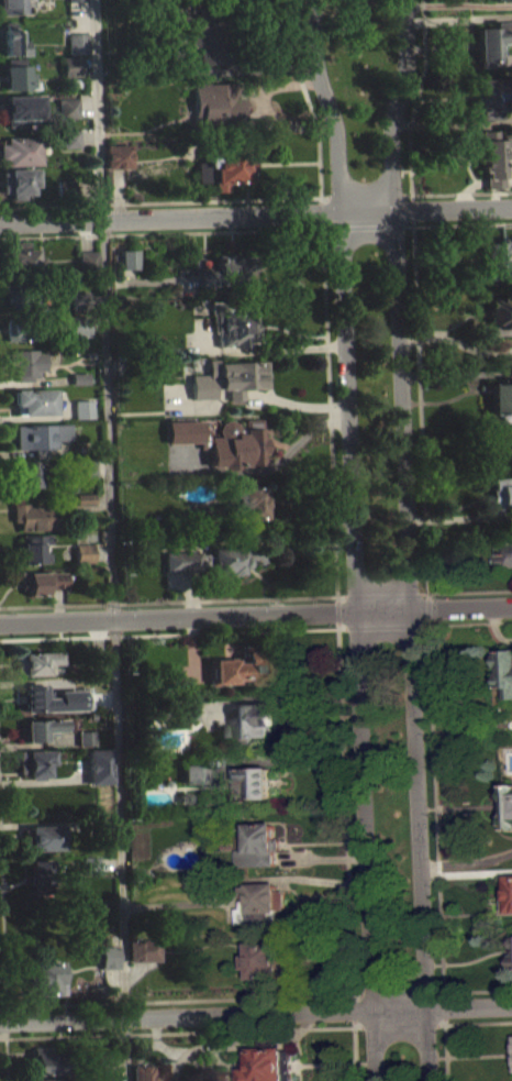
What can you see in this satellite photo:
building: (76, 0)
building: (498, 0)
building: (12, 5)
building: (203, 33)
building: (12, 40)
building: (490, 41)
building: (77, 42)
building: (70, 65)
building: (15, 74)
building: (489, 96)
road: (307, 98)
road: (414, 103)
building: (67, 107)
building: (219, 107)
building: (20, 108)
building: (69, 137)
building: (21, 150)
building: (116, 155)
building: (493, 156)
building: (223, 166)
building: (16, 181)
building: (66, 189)
road: (461, 192)
road: (366, 195)
road: (176, 200)
road: (256, 213)
road: (412, 217)
road: (463, 224)
road: (160, 233)
building: (20, 257)
building: (126, 258)
building: (499, 258)
building: (87, 261)
building: (225, 268)
building: (20, 295)
building: (76, 300)
building: (499, 315)
building: (78, 324)
building: (235, 326)
building: (22, 327)
building: (25, 363)
road: (327, 375)
building: (78, 377)
building: (227, 377)
building: (79, 386)
building: (501, 398)
road: (420, 400)
building: (32, 401)
building: (82, 408)
building: (40, 437)
building: (221, 440)
building: (85, 465)
building: (26, 475)
building: (501, 494)
building: (84, 498)
building: (253, 503)
building: (84, 507)
road: (110, 509)
building: (36, 516)
road: (352, 539)
road: (404, 539)
building: (33, 548)
building: (84, 553)
building: (503, 554)
building: (211, 560)
building: (84, 563)
building: (41, 581)
road: (453, 592)
road: (390, 593)
road: (345, 595)
road: (175, 600)
road: (255, 613)
road: (391, 626)
road: (177, 633)
building: (35, 662)
building: (99, 662)
building: (244, 666)
building: (505, 669)
building: (69, 682)
building: (32, 697)
building: (185, 707)
building: (185, 717)
building: (255, 719)
building: (42, 728)
building: (85, 737)
building: (85, 746)
building: (34, 762)
building: (98, 765)
building: (196, 773)
road: (434, 773)
building: (261, 781)
building: (509, 804)
road: (345, 810)
building: (41, 838)
building: (260, 845)
building: (90, 865)
building: (34, 876)
building: (211, 886)
building: (508, 896)
building: (263, 902)
road: (2, 934)
building: (511, 946)
building: (143, 949)
building: (109, 957)
building: (270, 958)
building: (46, 978)
road: (442, 992)
road: (179, 1000)
road: (354, 1002)
road: (4, 1013)
road: (256, 1014)
road: (444, 1015)
road: (478, 1022)
road: (437, 1024)
road: (5, 1029)
road: (188, 1030)
road: (354, 1046)
road: (126, 1049)
road: (5, 1056)
building: (45, 1060)
building: (268, 1062)
building: (102, 1071)
building: (143, 1072)
building: (44, 1079)

